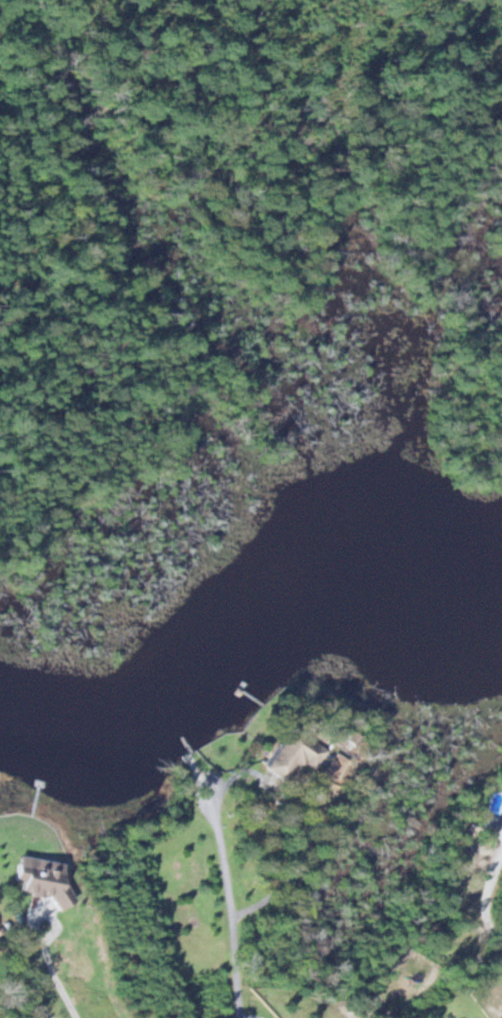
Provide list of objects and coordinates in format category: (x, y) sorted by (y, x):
building: (293, 755)
road: (221, 902)

